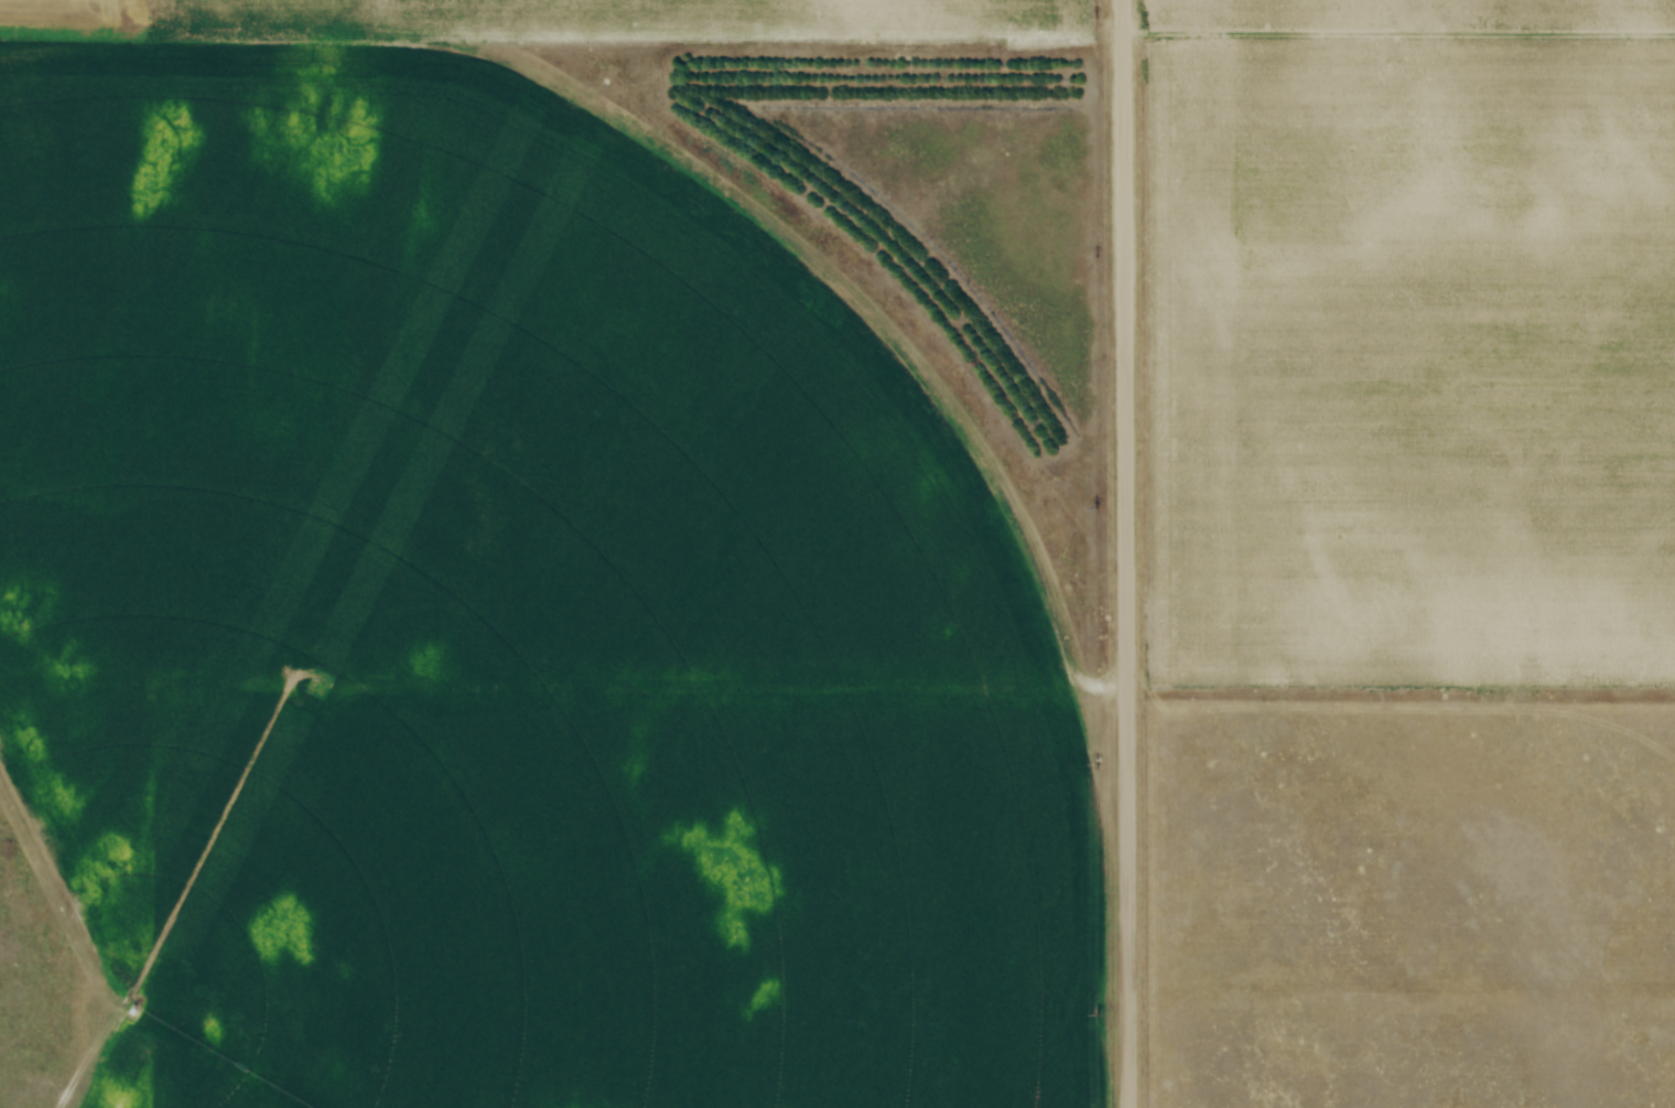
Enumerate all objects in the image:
road: (1124, 553)

